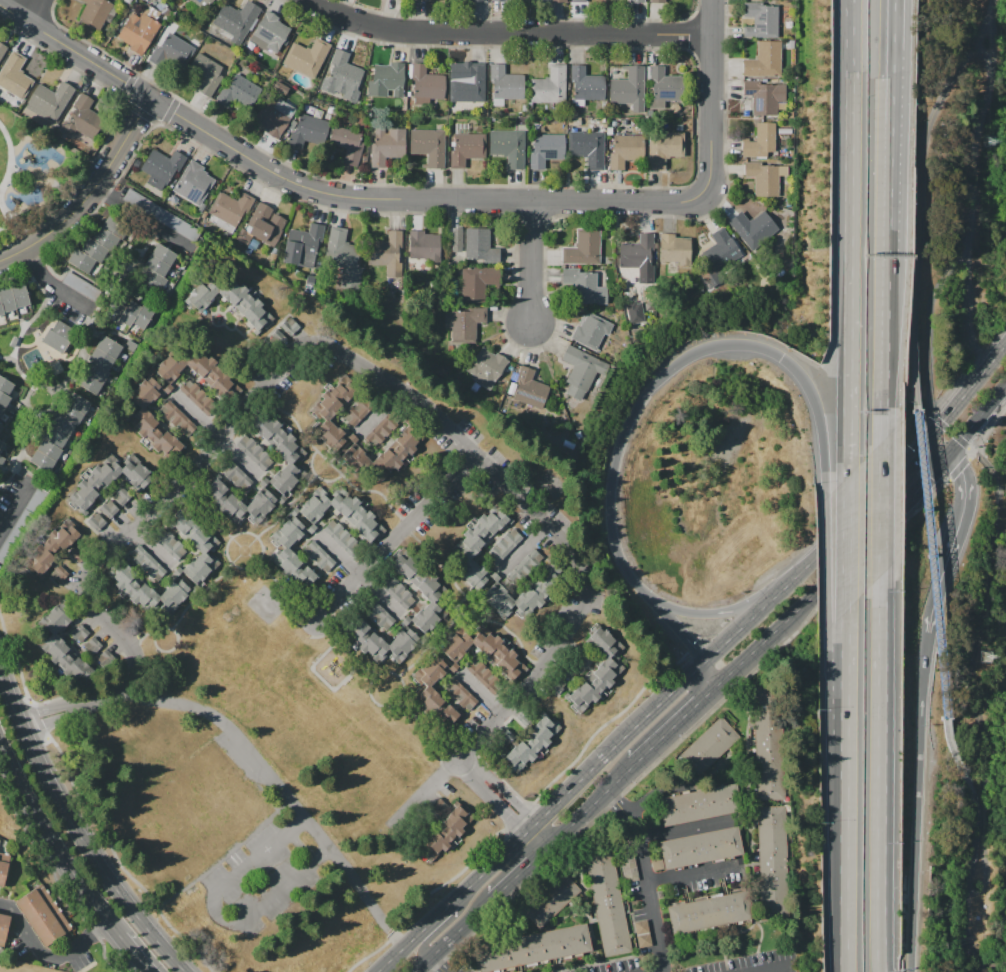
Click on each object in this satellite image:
building: (475, 0)
building: (496, 0)
flagpole: (500, 1)
building: (557, 1)
building: (578, 1)
building: (636, 1)
building: (657, 1)
building: (204, 4)
road: (33, 11)
road: (988, 12)
building: (94, 13)
building: (760, 19)
building: (236, 20)
building: (271, 31)
building: (138, 32)
road: (507, 32)
road: (847, 40)
road: (852, 40)
building: (171, 50)
building: (2, 51)
building: (307, 57)
building: (764, 60)
building: (205, 74)
building: (14, 76)
building: (342, 77)
building: (386, 80)
building: (466, 81)
building: (505, 83)
building: (586, 84)
building: (426, 85)
building: (549, 86)
building: (662, 87)
building: (629, 88)
building: (238, 93)
building: (764, 97)
building: (50, 100)
road: (711, 100)
building: (273, 115)
building: (81, 119)
building: (308, 130)
road: (892, 130)
building: (760, 141)
power tower: (988, 143)
building: (347, 144)
building: (387, 146)
building: (429, 146)
building: (508, 147)
building: (467, 149)
building: (546, 149)
building: (587, 149)
building: (663, 149)
building: (624, 150)
road: (12, 159)
building: (161, 168)
park: (31, 173)
building: (765, 177)
building: (193, 183)
road: (88, 192)
road: (332, 193)
building: (230, 207)
road: (922, 209)
road: (7, 214)
building: (165, 216)
building: (261, 227)
building: (752, 227)
road: (20, 234)
building: (302, 243)
building: (425, 244)
building: (95, 246)
building: (480, 246)
building: (583, 248)
building: (674, 249)
building: (634, 251)
building: (719, 252)
building: (387, 256)
building: (344, 259)
road: (532, 263)
building: (156, 268)
road: (48, 279)
road: (849, 279)
building: (478, 282)
building: (580, 285)
building: (81, 286)
road: (968, 295)
building: (12, 297)
building: (232, 302)
building: (129, 313)
road: (27, 324)
building: (466, 325)
building: (590, 330)
building: (59, 336)
road: (888, 348)
building: (98, 365)
road: (679, 365)
building: (486, 367)
road: (372, 372)
building: (580, 372)
road: (70, 373)
building: (531, 384)
building: (4, 393)
road: (966, 396)
building: (198, 397)
road: (1002, 400)
road: (23, 403)
building: (140, 407)
building: (360, 409)
road: (379, 409)
building: (177, 417)
road: (976, 423)
building: (326, 427)
building: (383, 427)
building: (1, 428)
building: (59, 431)
road: (302, 435)
building: (2, 444)
traffic signals: (926, 444)
building: (399, 449)
road: (936, 449)
building: (254, 452)
building: (278, 453)
traffic signals: (947, 455)
road: (982, 456)
building: (2, 460)
road: (17, 466)
road: (29, 472)
building: (233, 473)
road: (314, 475)
road: (309, 482)
building: (106, 483)
building: (127, 500)
building: (238, 503)
road: (15, 507)
road: (205, 512)
road: (395, 512)
road: (859, 512)
building: (113, 514)
road: (887, 517)
building: (20, 523)
building: (100, 528)
building: (342, 537)
building: (283, 539)
road: (390, 540)
road: (956, 541)
building: (169, 544)
road: (848, 544)
building: (478, 546)
building: (504, 546)
road: (839, 548)
building: (53, 552)
building: (80, 552)
road: (338, 554)
building: (319, 556)
building: (147, 562)
road: (934, 562)
road: (255, 564)
building: (202, 565)
building: (523, 565)
road: (834, 570)
building: (398, 592)
building: (526, 592)
road: (199, 594)
building: (432, 605)
road: (719, 614)
building: (378, 615)
road: (673, 627)
road: (306, 631)
building: (78, 633)
building: (50, 636)
building: (92, 645)
road: (522, 648)
road: (169, 650)
road: (419, 657)
building: (581, 657)
power tower: (986, 657)
building: (598, 671)
building: (567, 673)
building: (427, 674)
building: (483, 675)
road: (712, 675)
road: (322, 679)
road: (401, 680)
building: (556, 684)
building: (461, 695)
road: (46, 709)
building: (449, 713)
building: (525, 717)
road: (52, 721)
road: (678, 726)
road: (427, 731)
building: (506, 737)
building: (770, 743)
building: (532, 744)
building: (707, 750)
road: (959, 761)
road: (466, 768)
road: (7, 775)
road: (584, 776)
road: (883, 784)
road: (846, 791)
road: (287, 792)
road: (508, 794)
park: (257, 796)
road: (618, 801)
road: (920, 802)
road: (644, 803)
building: (700, 804)
road: (497, 805)
building: (437, 806)
road: (591, 807)
road: (78, 831)
road: (664, 833)
building: (445, 834)
road: (538, 838)
road: (53, 840)
building: (700, 847)
building: (773, 863)
building: (657, 865)
building: (3, 867)
building: (628, 868)
road: (520, 872)
road: (649, 883)
road: (964, 888)
road: (147, 894)
building: (549, 899)
building: (607, 902)
building: (711, 912)
road: (217, 914)
building: (43, 915)
road: (448, 922)
building: (3, 927)
building: (641, 927)
road: (454, 935)
building: (644, 940)
building: (533, 948)
road: (136, 952)
road: (46, 957)
road: (973, 964)
road: (436, 965)
road: (995, 966)
road: (783, 971)

